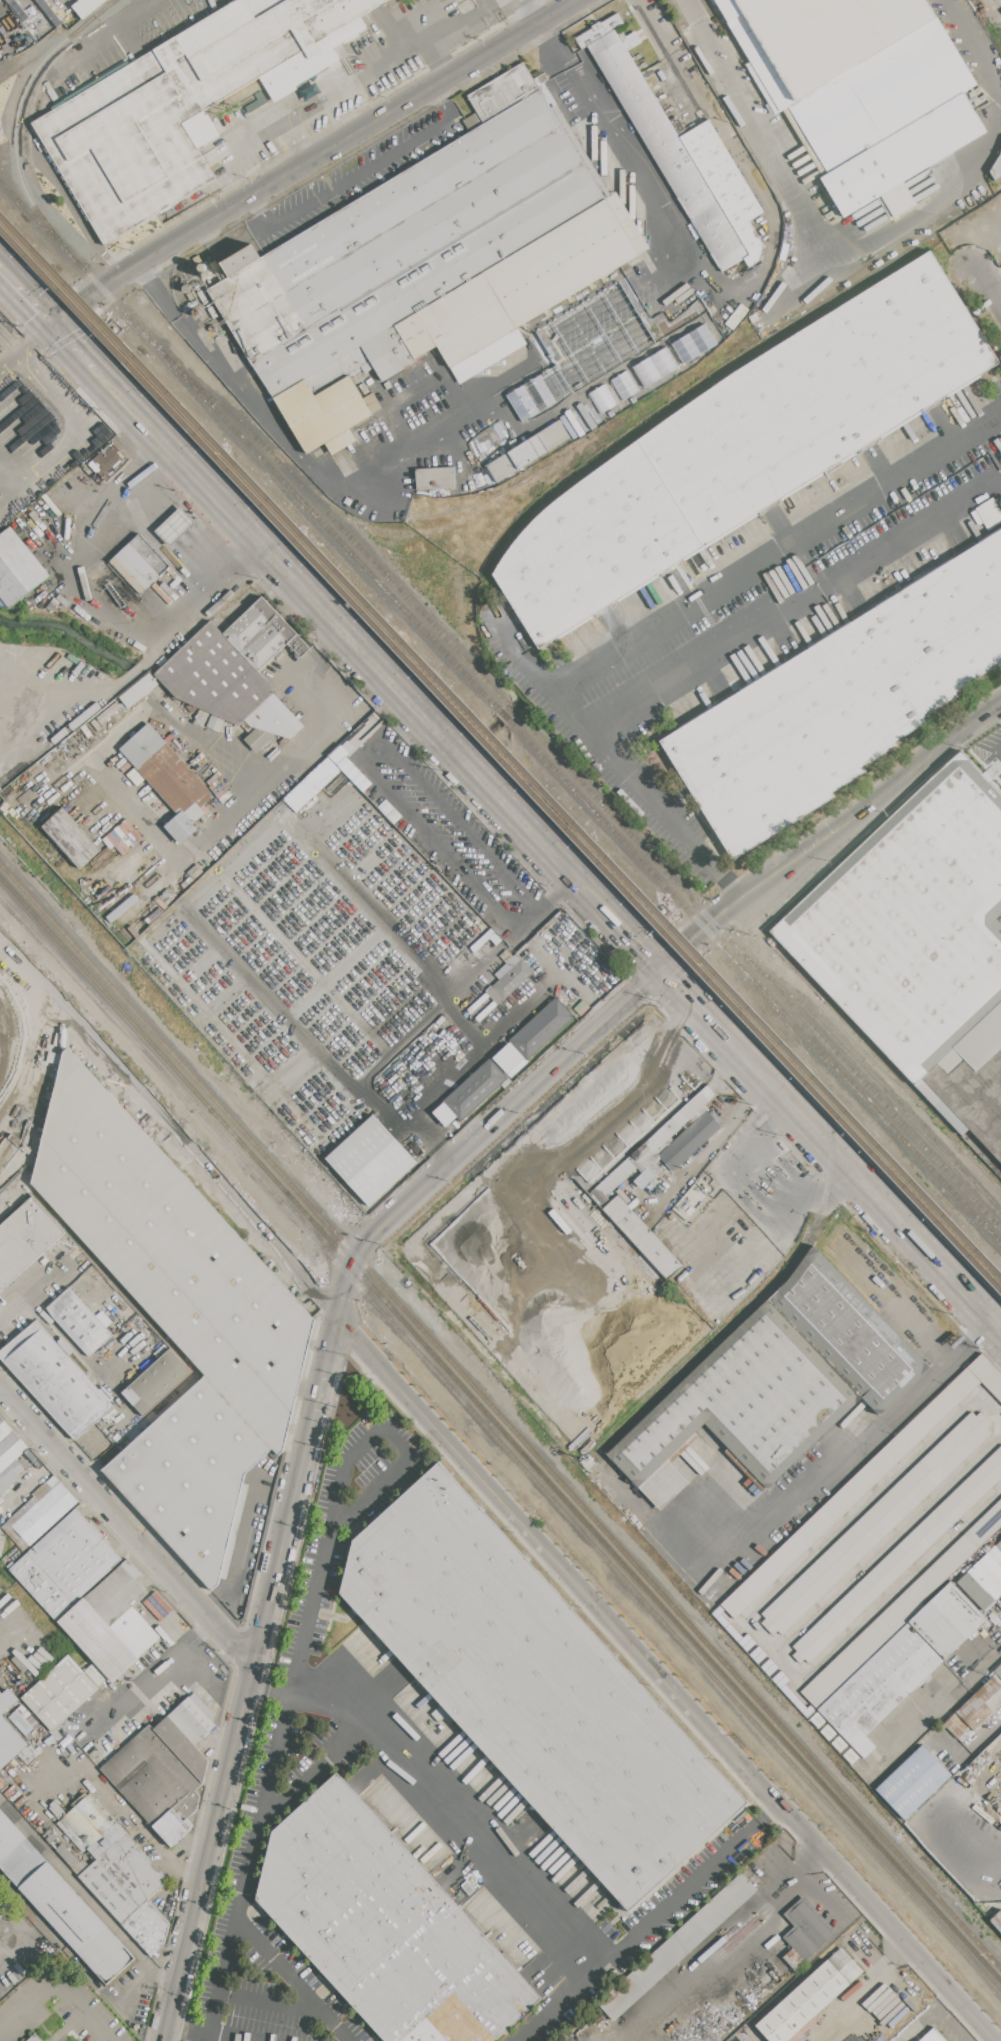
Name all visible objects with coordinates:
road: (493, 1)
road: (380, 2)
building: (86, 7)
road: (492, 20)
road: (449, 24)
road: (395, 26)
road: (104, 35)
building: (859, 86)
road: (330, 96)
building: (189, 103)
railway: (16, 124)
road: (622, 150)
road: (315, 159)
building: (686, 161)
road: (742, 162)
building: (996, 168)
road: (356, 173)
road: (52, 176)
building: (896, 199)
road: (866, 247)
road: (27, 264)
building: (427, 265)
railway: (54, 267)
railway: (51, 276)
road: (993, 285)
road: (26, 295)
road: (604, 306)
road: (72, 312)
building: (693, 343)
road: (73, 344)
road: (26, 348)
road: (568, 365)
building: (654, 366)
road: (534, 375)
road: (440, 377)
railway: (711, 380)
building: (601, 398)
railway: (647, 406)
road: (463, 413)
road: (261, 417)
road: (79, 437)
railway: (249, 444)
building: (744, 446)
building: (527, 452)
building: (110, 459)
railway: (310, 467)
building: (435, 479)
road: (11, 498)
railway: (337, 522)
building: (175, 527)
building: (139, 564)
building: (17, 568)
road: (722, 587)
road: (100, 605)
road: (773, 619)
road: (348, 635)
road: (384, 644)
building: (234, 674)
building: (841, 701)
railway: (512, 709)
railway: (506, 714)
road: (358, 758)
building: (166, 770)
railway: (555, 802)
road: (655, 806)
railway: (554, 811)
building: (180, 827)
road: (832, 836)
building: (71, 837)
railway: (26, 848)
road: (172, 858)
road: (729, 890)
road: (556, 891)
road: (389, 933)
road: (633, 936)
building: (921, 943)
traffic signals: (665, 969)
railway: (758, 972)
building: (509, 978)
railway: (755, 982)
road: (693, 1002)
road: (516, 1018)
building: (541, 1028)
road: (668, 1031)
road: (38, 1057)
building: (508, 1057)
railway: (873, 1080)
building: (476, 1089)
road: (427, 1096)
railway: (920, 1103)
building: (445, 1114)
road: (172, 1126)
road: (485, 1133)
building: (690, 1140)
road: (714, 1142)
railway: (984, 1151)
building: (372, 1159)
road: (861, 1181)
building: (608, 1185)
road: (747, 1205)
building: (25, 1239)
road: (34, 1290)
building: (179, 1317)
building: (79, 1321)
road: (978, 1333)
road: (75, 1350)
building: (55, 1380)
building: (157, 1382)
building: (777, 1382)
building: (171, 1397)
railway: (501, 1415)
road: (30, 1421)
railway: (500, 1429)
railway: (501, 1444)
building: (9, 1445)
road: (466, 1459)
building: (34, 1460)
road: (843, 1461)
building: (10, 1476)
road: (385, 1478)
road: (35, 1479)
building: (864, 1482)
road: (294, 1492)
road: (258, 1498)
building: (40, 1512)
building: (876, 1523)
building: (2, 1544)
building: (997, 1552)
building: (900, 1557)
road: (156, 1561)
building: (67, 1564)
building: (991, 1566)
building: (985, 1580)
building: (975, 1591)
building: (117, 1592)
building: (898, 1612)
building: (947, 1620)
building: (138, 1631)
road: (7, 1637)
building: (98, 1639)
road: (642, 1659)
road: (984, 1669)
building: (998, 1670)
road: (150, 1672)
building: (95, 1674)
building: (879, 1687)
road: (270, 1688)
building: (534, 1688)
building: (60, 1693)
building: (975, 1710)
building: (193, 1718)
building: (24, 1720)
road: (283, 1725)
road: (923, 1728)
building: (9, 1731)
building: (184, 1748)
building: (28, 1754)
road: (318, 1768)
building: (913, 1782)
building: (154, 1783)
road: (109, 1801)
road: (457, 1809)
building: (86, 1822)
building: (8, 1836)
building: (106, 1840)
road: (209, 1846)
building: (65, 1853)
building: (22, 1862)
building: (123, 1878)
road: (837, 1880)
road: (810, 1888)
building: (1, 1903)
building: (62, 1908)
building: (997, 1921)
road: (647, 1925)
building: (147, 1927)
building: (385, 1927)
building: (808, 1929)
road: (6, 1934)
building: (677, 1946)
building: (106, 1956)
road: (712, 1959)
road: (161, 1974)
road: (140, 1976)
road: (291, 1982)
road: (55, 1983)
building: (751, 1997)
building: (810, 1997)
road: (269, 1999)
road: (938, 2000)
road: (919, 2022)
road: (951, 2024)
road: (187, 2031)
road: (164, 2033)
building: (934, 2036)
building: (35, 2038)

